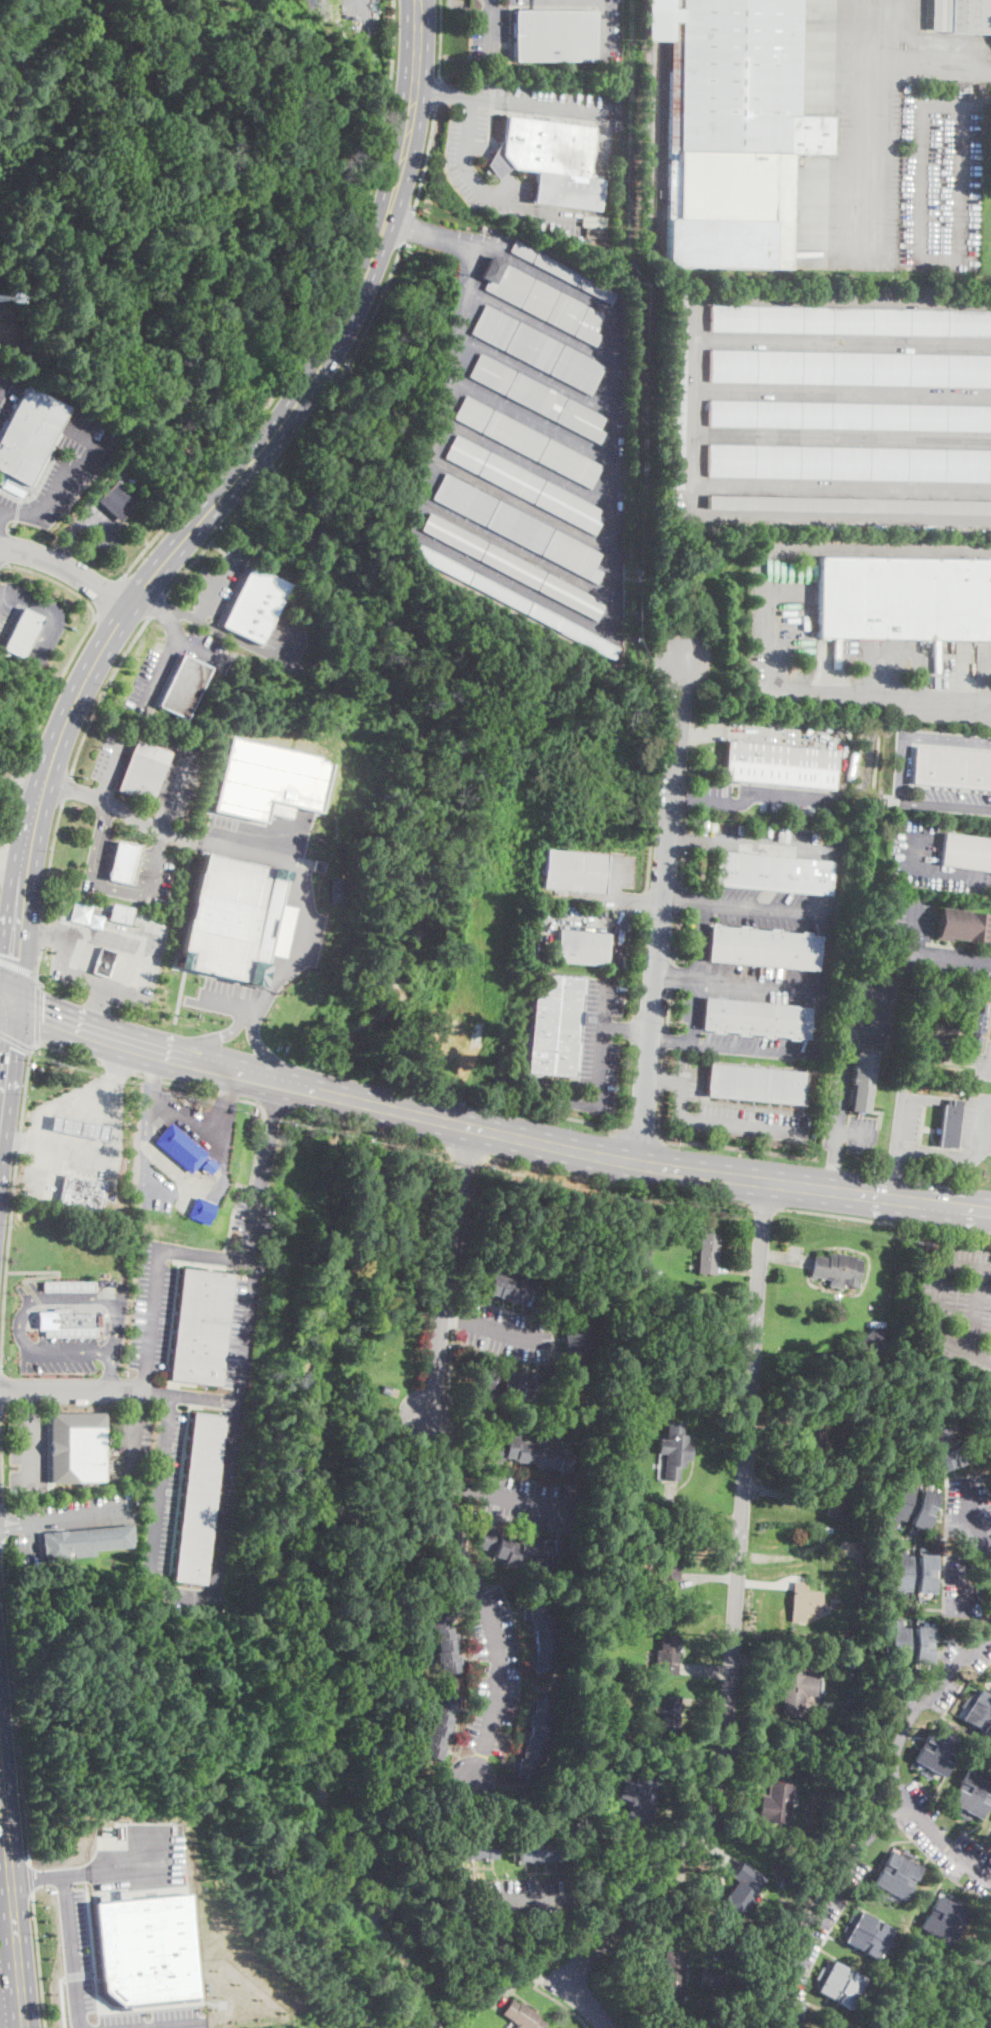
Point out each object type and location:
building: (960, 15)
road: (492, 28)
road: (605, 28)
parking lot: (488, 33)
building: (554, 36)
road: (441, 40)
road: (930, 70)
road: (457, 85)
railway: (665, 88)
building: (905, 89)
road: (437, 92)
road: (441, 93)
road: (978, 104)
road: (539, 106)
building: (623, 115)
railway: (650, 125)
building: (732, 130)
road: (600, 142)
road: (493, 155)
road: (426, 156)
parking lot: (457, 159)
building: (551, 161)
road: (467, 169)
parking lot: (940, 183)
road: (406, 225)
road: (961, 258)
building: (564, 272)
building: (542, 300)
road: (318, 316)
building: (850, 322)
building: (537, 350)
road: (463, 352)
building: (850, 368)
road: (1, 386)
building: (674, 389)
parking lot: (8, 390)
building: (538, 397)
building: (849, 416)
road: (299, 429)
building: (28, 440)
building: (527, 442)
building: (849, 463)
parking lot: (63, 471)
building: (131, 478)
road: (67, 480)
building: (524, 484)
road: (96, 489)
road: (215, 499)
building: (117, 500)
building: (849, 504)
parking lot: (100, 524)
road: (99, 527)
building: (518, 527)
road: (68, 537)
road: (213, 545)
road: (882, 551)
road: (0, 562)
building: (512, 566)
road: (67, 568)
road: (52, 579)
parking lot: (217, 581)
road: (212, 582)
parking lot: (784, 590)
road: (106, 594)
road: (14, 596)
building: (904, 598)
building: (516, 602)
road: (156, 604)
building: (254, 606)
road: (53, 622)
road: (206, 623)
road: (23, 626)
building: (22, 633)
road: (22, 635)
road: (281, 640)
parking lot: (285, 640)
road: (19, 649)
road: (193, 649)
road: (911, 649)
road: (163, 663)
road: (984, 680)
road: (55, 685)
parking lot: (147, 687)
building: (184, 687)
road: (814, 690)
road: (102, 691)
road: (915, 735)
parking lot: (111, 757)
road: (37, 762)
building: (779, 765)
building: (951, 765)
road: (23, 766)
road: (112, 768)
road: (11, 770)
building: (143, 770)
building: (267, 778)
road: (18, 785)
road: (66, 786)
road: (173, 786)
road: (19, 794)
road: (753, 796)
parking lot: (765, 798)
parking lot: (954, 800)
road: (945, 803)
building: (278, 809)
road: (688, 818)
road: (8, 821)
road: (683, 836)
road: (685, 837)
road: (96, 838)
parking lot: (761, 839)
road: (126, 847)
road: (799, 848)
road: (1, 851)
building: (965, 851)
road: (248, 852)
road: (50, 856)
road: (123, 857)
road: (12, 860)
parking lot: (930, 860)
building: (123, 862)
road: (153, 862)
road: (122, 865)
road: (650, 865)
road: (683, 866)
building: (574, 871)
building: (772, 871)
road: (938, 872)
road: (116, 889)
road: (680, 898)
road: (616, 899)
road: (643, 901)
road: (646, 901)
road: (683, 901)
road: (770, 908)
parking lot: (776, 909)
road: (661, 910)
building: (80, 912)
building: (120, 913)
building: (231, 917)
parking lot: (913, 923)
building: (961, 924)
building: (282, 930)
road: (41, 931)
road: (676, 937)
parking lot: (698, 939)
building: (582, 947)
building: (764, 948)
road: (926, 953)
traffic signals: (12, 955)
building: (104, 960)
road: (640, 964)
road: (17, 966)
road: (35, 967)
road: (68, 968)
road: (199, 972)
road: (697, 972)
road: (672, 976)
road: (738, 981)
road: (178, 995)
road: (2, 996)
parking lot: (231, 998)
road: (228, 1002)
road: (2, 1006)
road: (670, 1010)
traffic signals: (43, 1012)
road: (37, 1014)
building: (755, 1018)
road: (62, 1019)
road: (853, 1021)
building: (554, 1025)
building: (943, 1028)
road: (624, 1029)
road: (633, 1029)
building: (974, 1029)
road: (667, 1039)
road: (204, 1040)
road: (15, 1041)
road: (38, 1041)
road: (598, 1043)
parking lot: (601, 1044)
road: (137, 1045)
parking lot: (753, 1045)
traffic signals: (10, 1046)
road: (725, 1046)
road: (30, 1051)
road: (117, 1058)
road: (263, 1058)
road: (968, 1058)
road: (665, 1060)
parking lot: (985, 1062)
road: (7, 1067)
road: (117, 1067)
road: (152, 1075)
building: (862, 1081)
road: (661, 1084)
road: (664, 1084)
building: (755, 1084)
parking lot: (838, 1085)
road: (195, 1088)
road: (63, 1100)
road: (274, 1106)
parking lot: (732, 1112)
parking lot: (906, 1113)
road: (117, 1117)
road: (185, 1119)
road: (899, 1122)
parking lot: (977, 1123)
road: (458, 1124)
road: (608, 1124)
road: (721, 1124)
building: (950, 1125)
building: (78, 1128)
gas station: (78, 1128)
road: (369, 1129)
road: (641, 1133)
road: (857, 1133)
road: (150, 1134)
parking lot: (861, 1134)
road: (270, 1135)
road: (20, 1141)
road: (19, 1142)
road: (719, 1145)
road: (52, 1147)
building: (179, 1148)
road: (219, 1152)
road: (468, 1152)
road: (943, 1157)
parking lot: (65, 1164)
building: (208, 1167)
road: (834, 1169)
road: (618, 1181)
road: (155, 1184)
parking lot: (157, 1189)
building: (81, 1193)
road: (878, 1197)
road: (767, 1207)
building: (201, 1211)
road: (887, 1221)
road: (254, 1223)
building: (708, 1253)
road: (207, 1254)
building: (639, 1256)
road: (7, 1261)
building: (836, 1269)
road: (445, 1271)
road: (740, 1271)
building: (69, 1286)
parking lot: (247, 1287)
building: (515, 1290)
parking lot: (32, 1294)
road: (937, 1303)
road: (29, 1305)
parking lot: (958, 1305)
parking lot: (153, 1306)
road: (973, 1308)
road: (153, 1309)
road: (452, 1318)
building: (66, 1324)
road: (247, 1324)
building: (201, 1327)
road: (504, 1331)
parking lot: (506, 1334)
building: (575, 1343)
building: (877, 1349)
parking lot: (60, 1355)
road: (110, 1372)
road: (144, 1381)
building: (512, 1384)
road: (119, 1389)
building: (386, 1389)
road: (1, 1391)
road: (239, 1394)
road: (135, 1400)
road: (171, 1400)
road: (26, 1402)
road: (237, 1409)
parking lot: (129, 1439)
road: (131, 1440)
building: (812, 1440)
building: (945, 1447)
building: (76, 1448)
road: (27, 1450)
building: (674, 1450)
parking lot: (27, 1453)
building: (528, 1453)
road: (2, 1459)
road: (467, 1488)
building: (199, 1498)
road: (449, 1500)
parking lot: (162, 1501)
road: (523, 1501)
parking lot: (526, 1504)
road: (29, 1505)
building: (912, 1505)
building: (836, 1506)
road: (698, 1513)
road: (15, 1516)
parking lot: (76, 1516)
road: (75, 1517)
road: (974, 1521)
road: (3, 1525)
road: (14, 1527)
road: (31, 1535)
building: (83, 1541)
building: (520, 1548)
building: (846, 1549)
building: (666, 1565)
building: (913, 1573)
building: (602, 1574)
road: (712, 1577)
road: (182, 1592)
building: (805, 1601)
road: (737, 1603)
building: (542, 1636)
building: (444, 1640)
building: (910, 1644)
building: (667, 1654)
road: (498, 1667)
parking lot: (493, 1670)
road: (706, 1670)
building: (798, 1692)
building: (593, 1700)
road: (707, 1702)
road: (15, 1705)
building: (670, 1713)
building: (979, 1713)
building: (852, 1717)
building: (440, 1725)
building: (852, 1730)
building: (535, 1738)
building: (936, 1752)
road: (893, 1759)
road: (477, 1765)
road: (687, 1789)
building: (972, 1794)
building: (640, 1797)
building: (777, 1804)
building: (792, 1833)
building: (467, 1848)
building: (543, 1850)
parking lot: (139, 1861)
road: (93, 1871)
building: (896, 1875)
road: (31, 1878)
building: (745, 1888)
road: (12, 1896)
parking lot: (522, 1896)
road: (528, 1896)
road: (818, 1903)
road: (595, 1912)
building: (943, 1920)
building: (868, 1936)
building: (145, 1948)
road: (71, 1952)
building: (984, 1953)
road: (39, 1960)
building: (711, 1975)
road: (530, 1976)
parking lot: (79, 1979)
building: (671, 1979)
building: (840, 1985)
road: (557, 1999)
road: (62, 2000)
road: (589, 2004)
building: (522, 2016)
road: (167, 2024)
building: (731, 2027)
building: (835, 2027)
building: (990, 2027)

